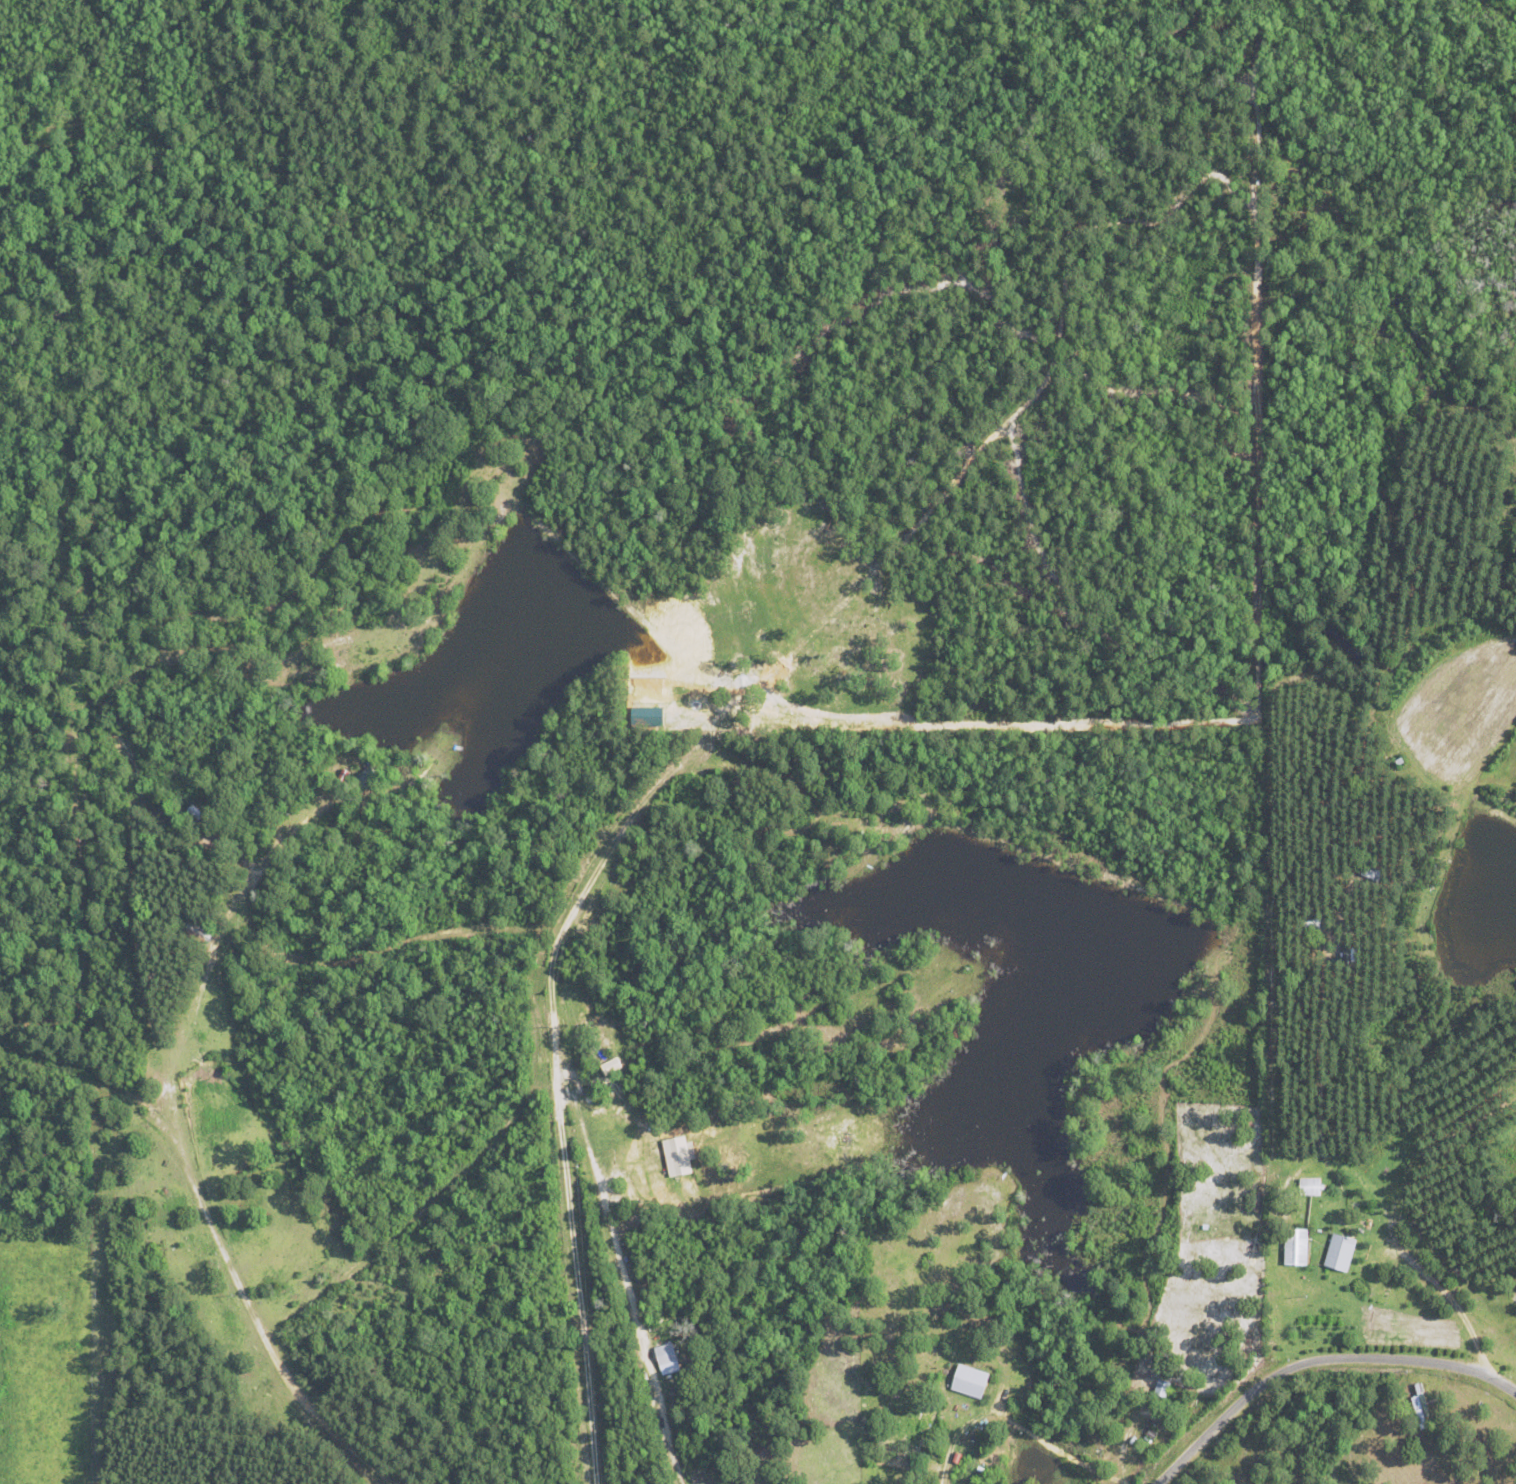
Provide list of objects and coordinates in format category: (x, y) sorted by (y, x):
building: (644, 715)
building: (609, 1065)
building: (677, 1155)
building: (1307, 1186)
building: (1294, 1246)
building: (1338, 1252)
road: (243, 1302)
building: (665, 1359)
road: (1316, 1360)
building: (967, 1380)

